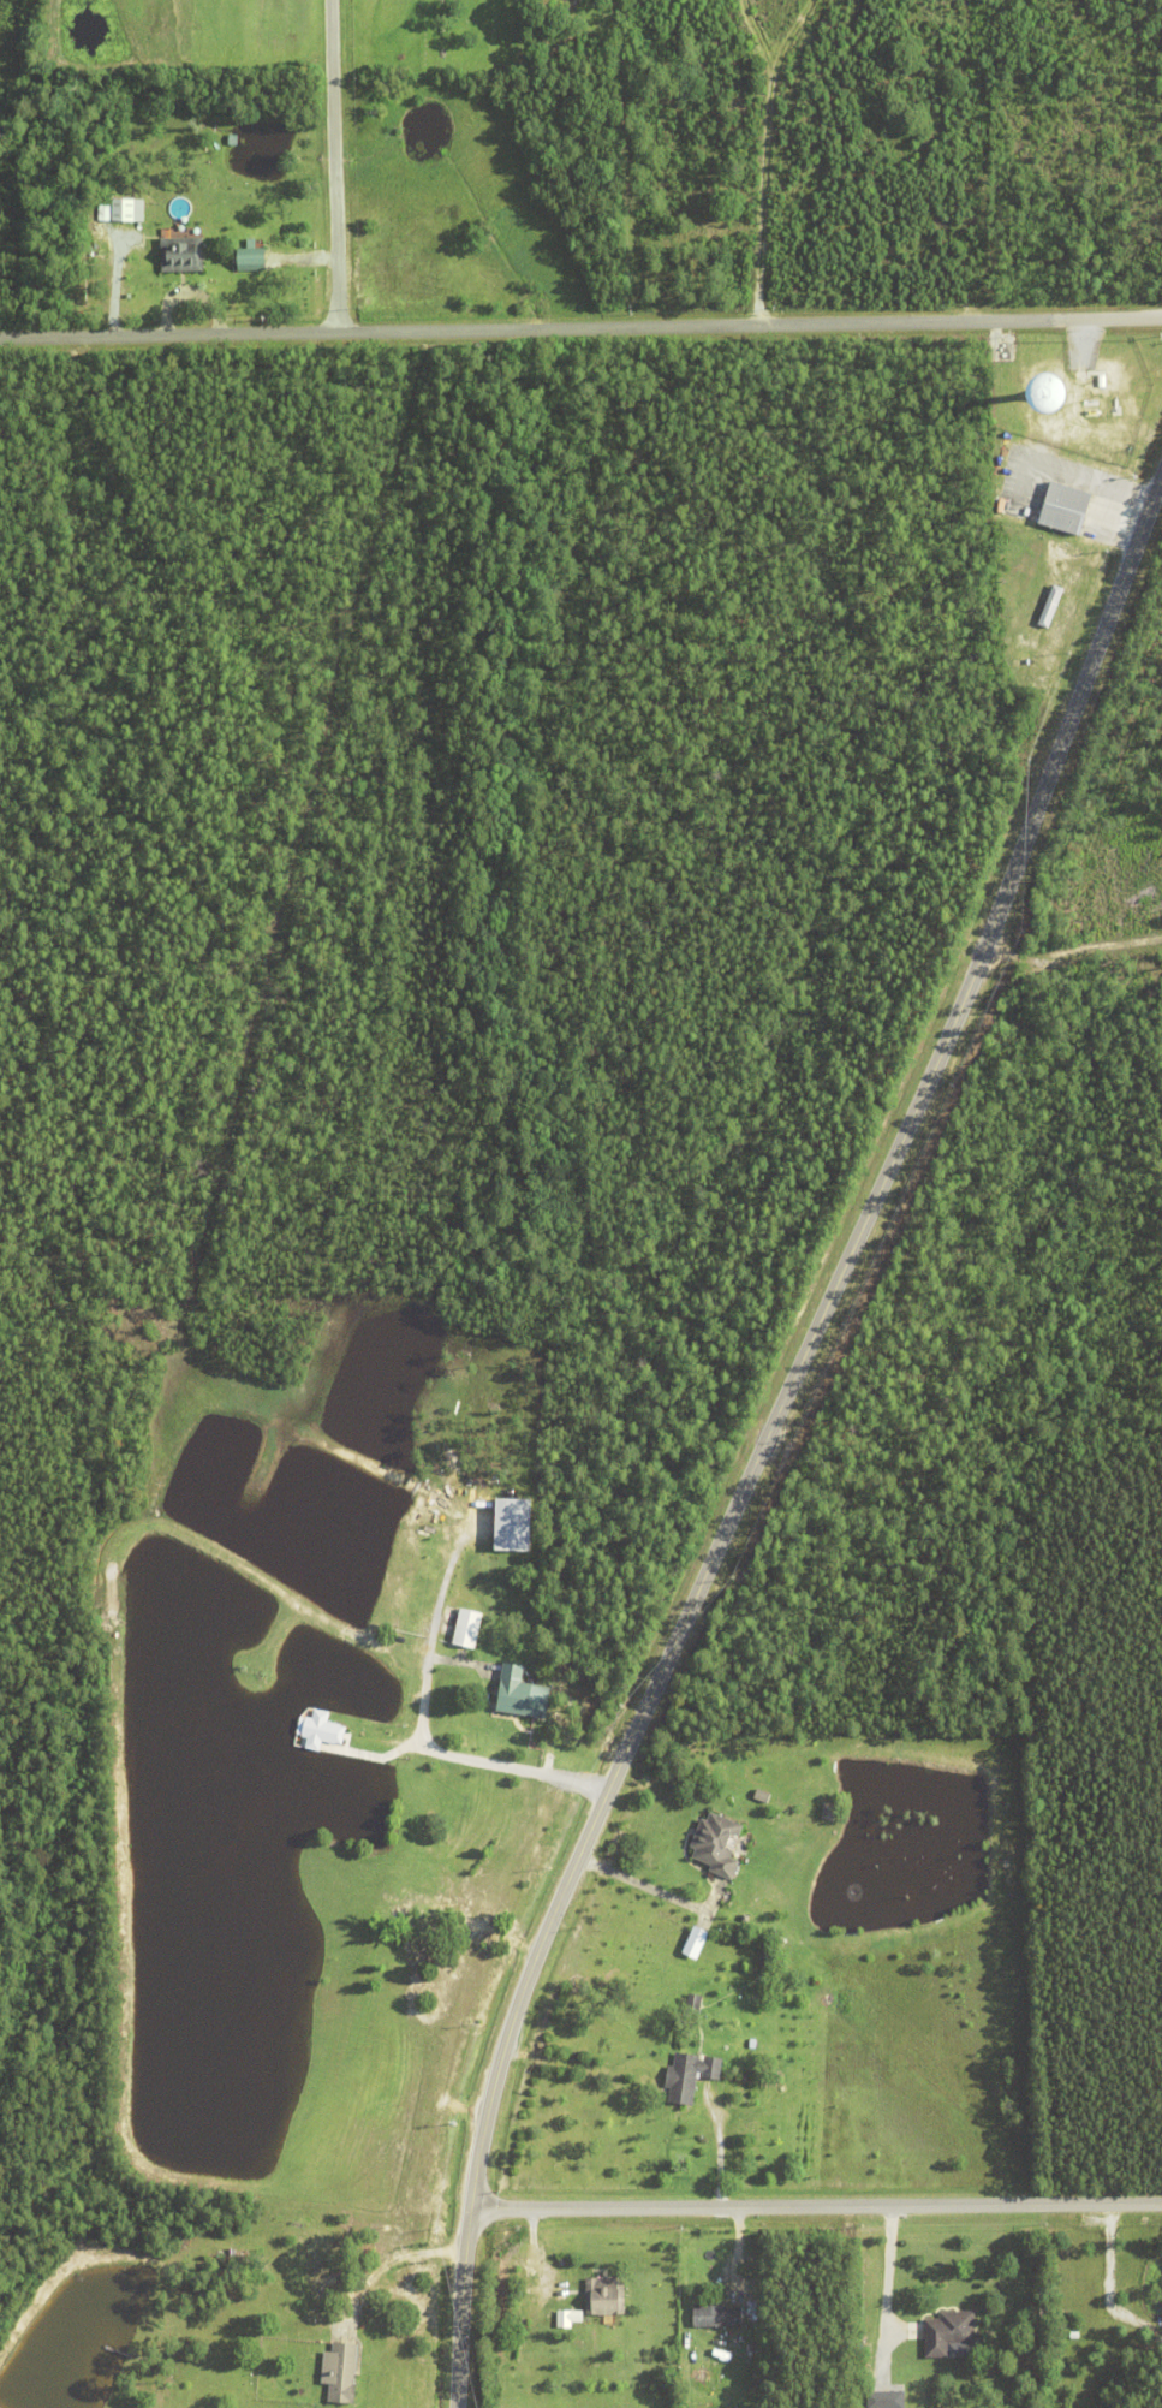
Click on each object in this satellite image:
road: (336, 167)
building: (127, 209)
building: (181, 252)
building: (251, 256)
road: (580, 328)
building: (1003, 404)
building: (1065, 507)
building: (1047, 607)
road: (769, 1435)
building: (512, 1528)
building: (467, 1630)
building: (520, 1695)
building: (322, 1732)
road: (465, 1759)
building: (828, 1814)
building: (716, 1847)
building: (689, 1943)
building: (752, 2045)
building: (689, 2077)
building: (704, 2101)
road: (817, 2205)
road: (391, 2260)
road: (882, 2271)
building: (606, 2295)
building: (717, 2313)
building: (565, 2317)
building: (947, 2335)
building: (709, 2360)
building: (340, 2368)
building: (881, 2400)

